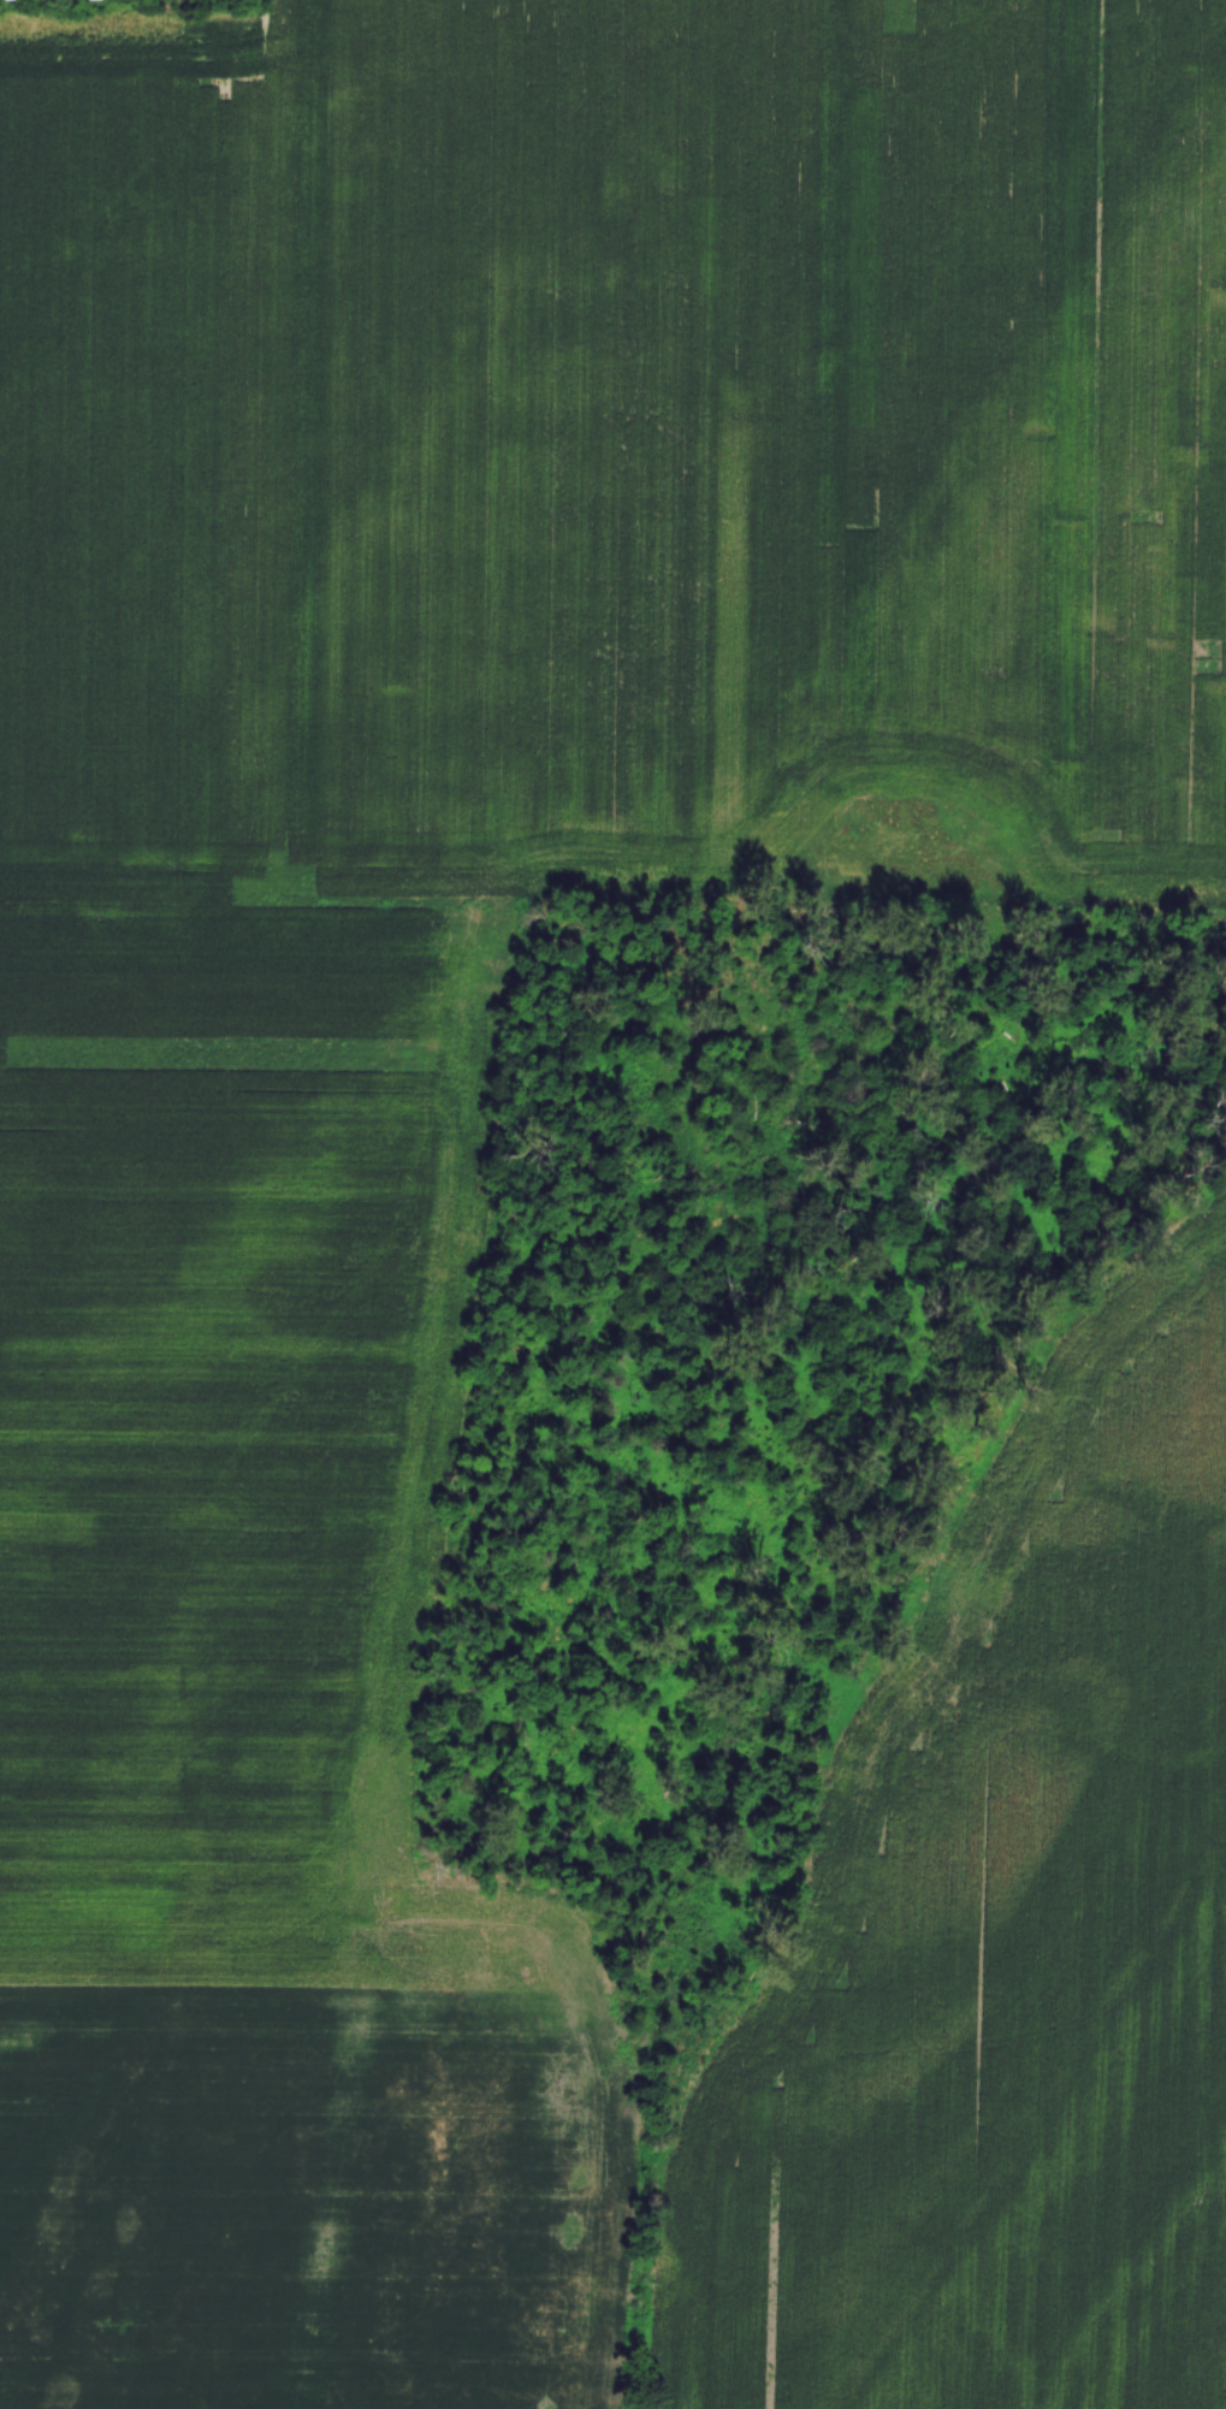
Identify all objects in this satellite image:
crop: (468, 959)
crop: (1001, 1948)

